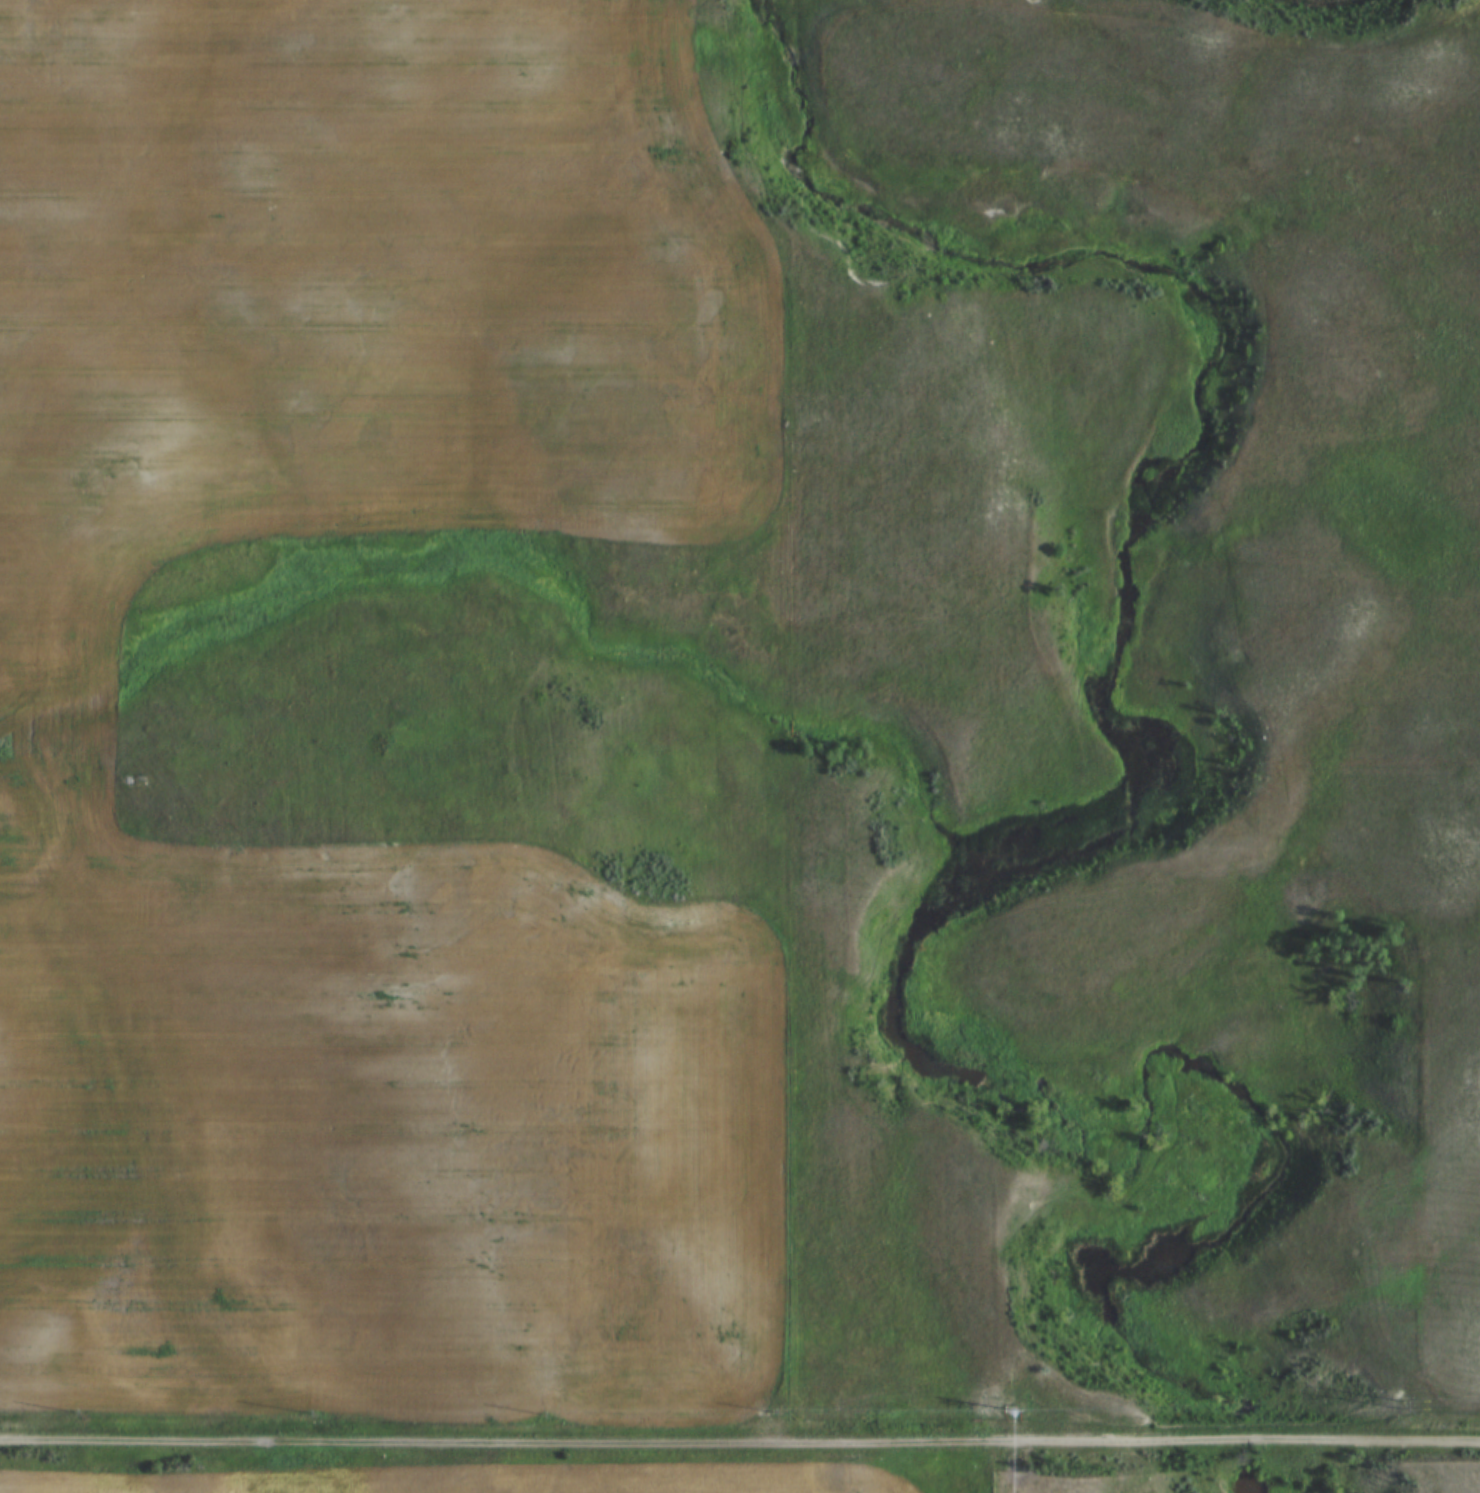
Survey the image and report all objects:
road: (740, 1440)

